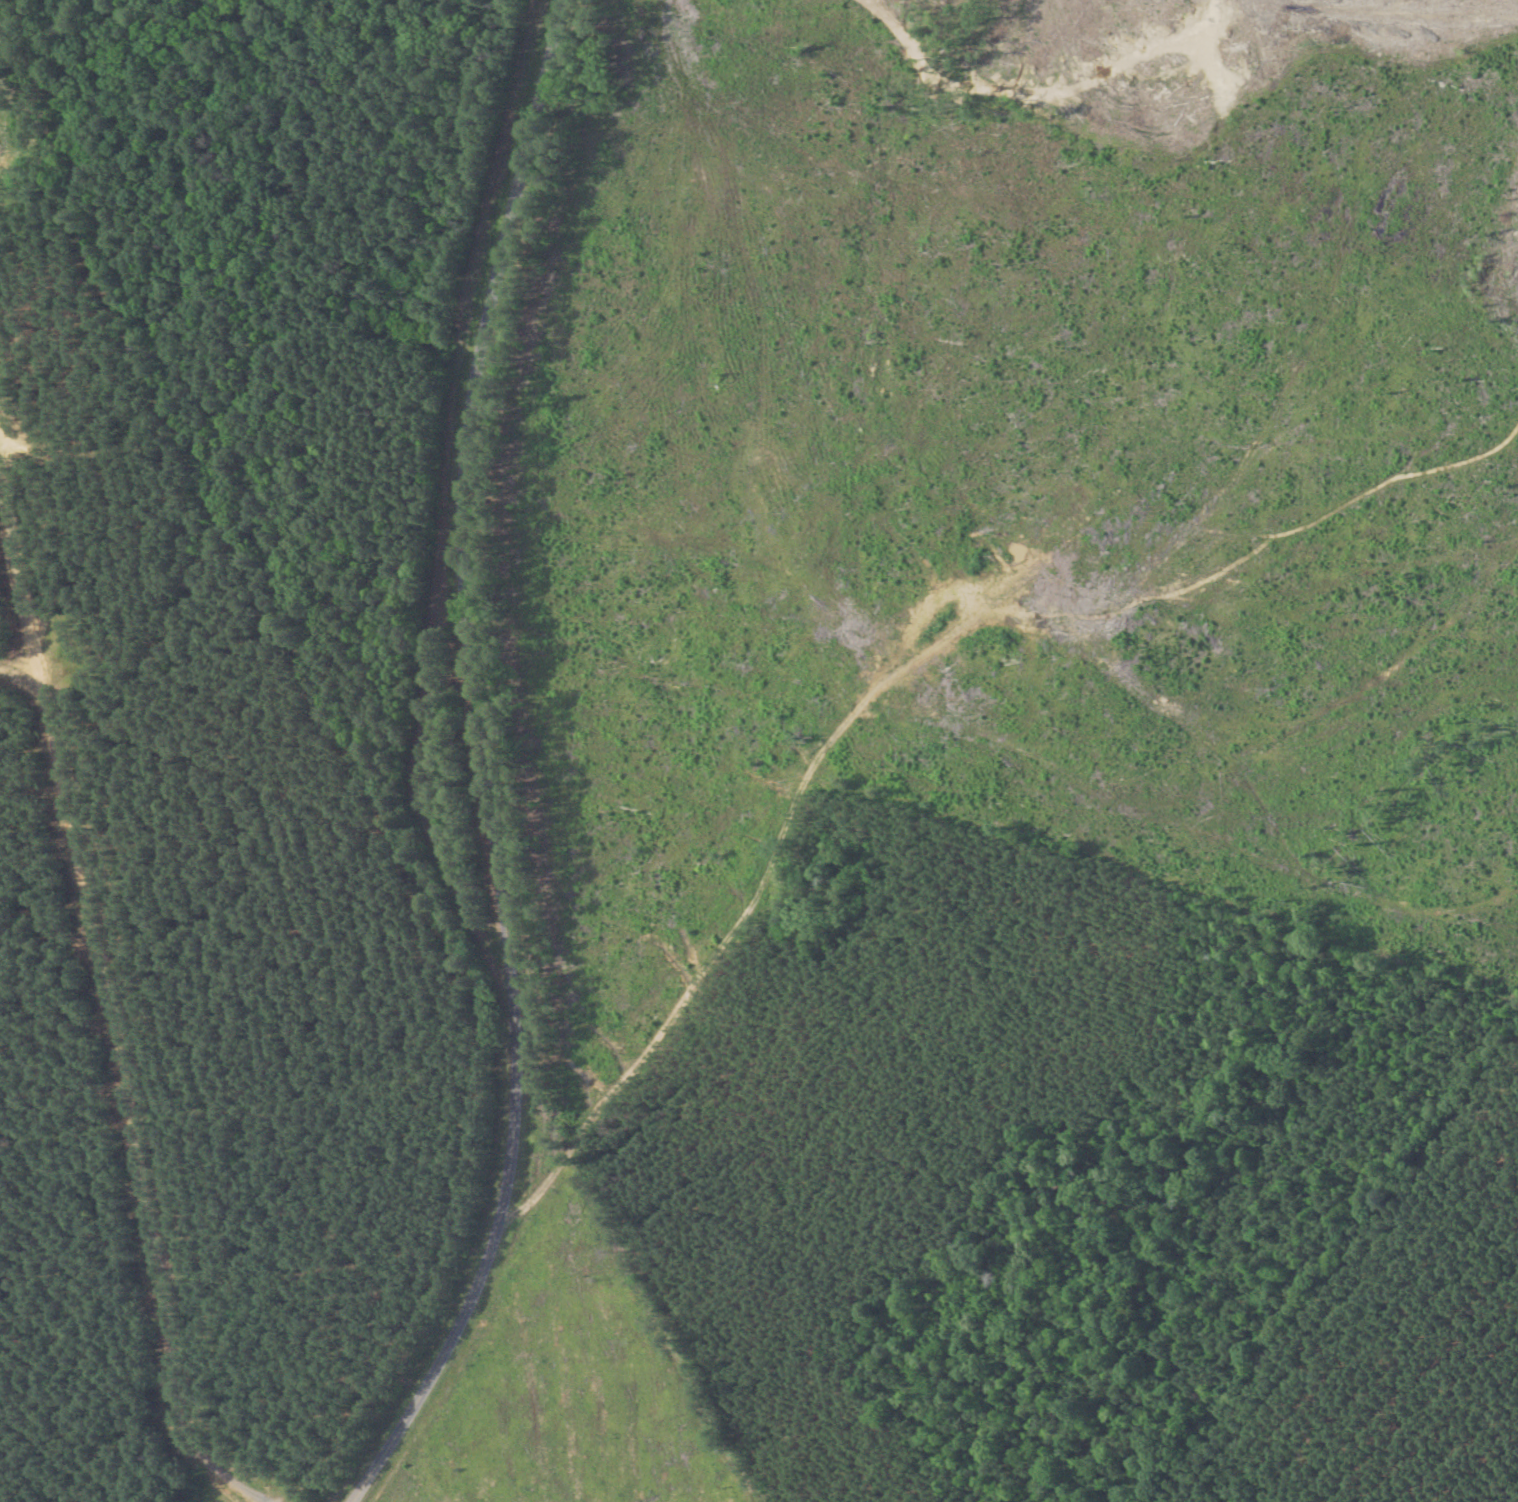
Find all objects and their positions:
road: (468, 384)
road: (515, 1161)

